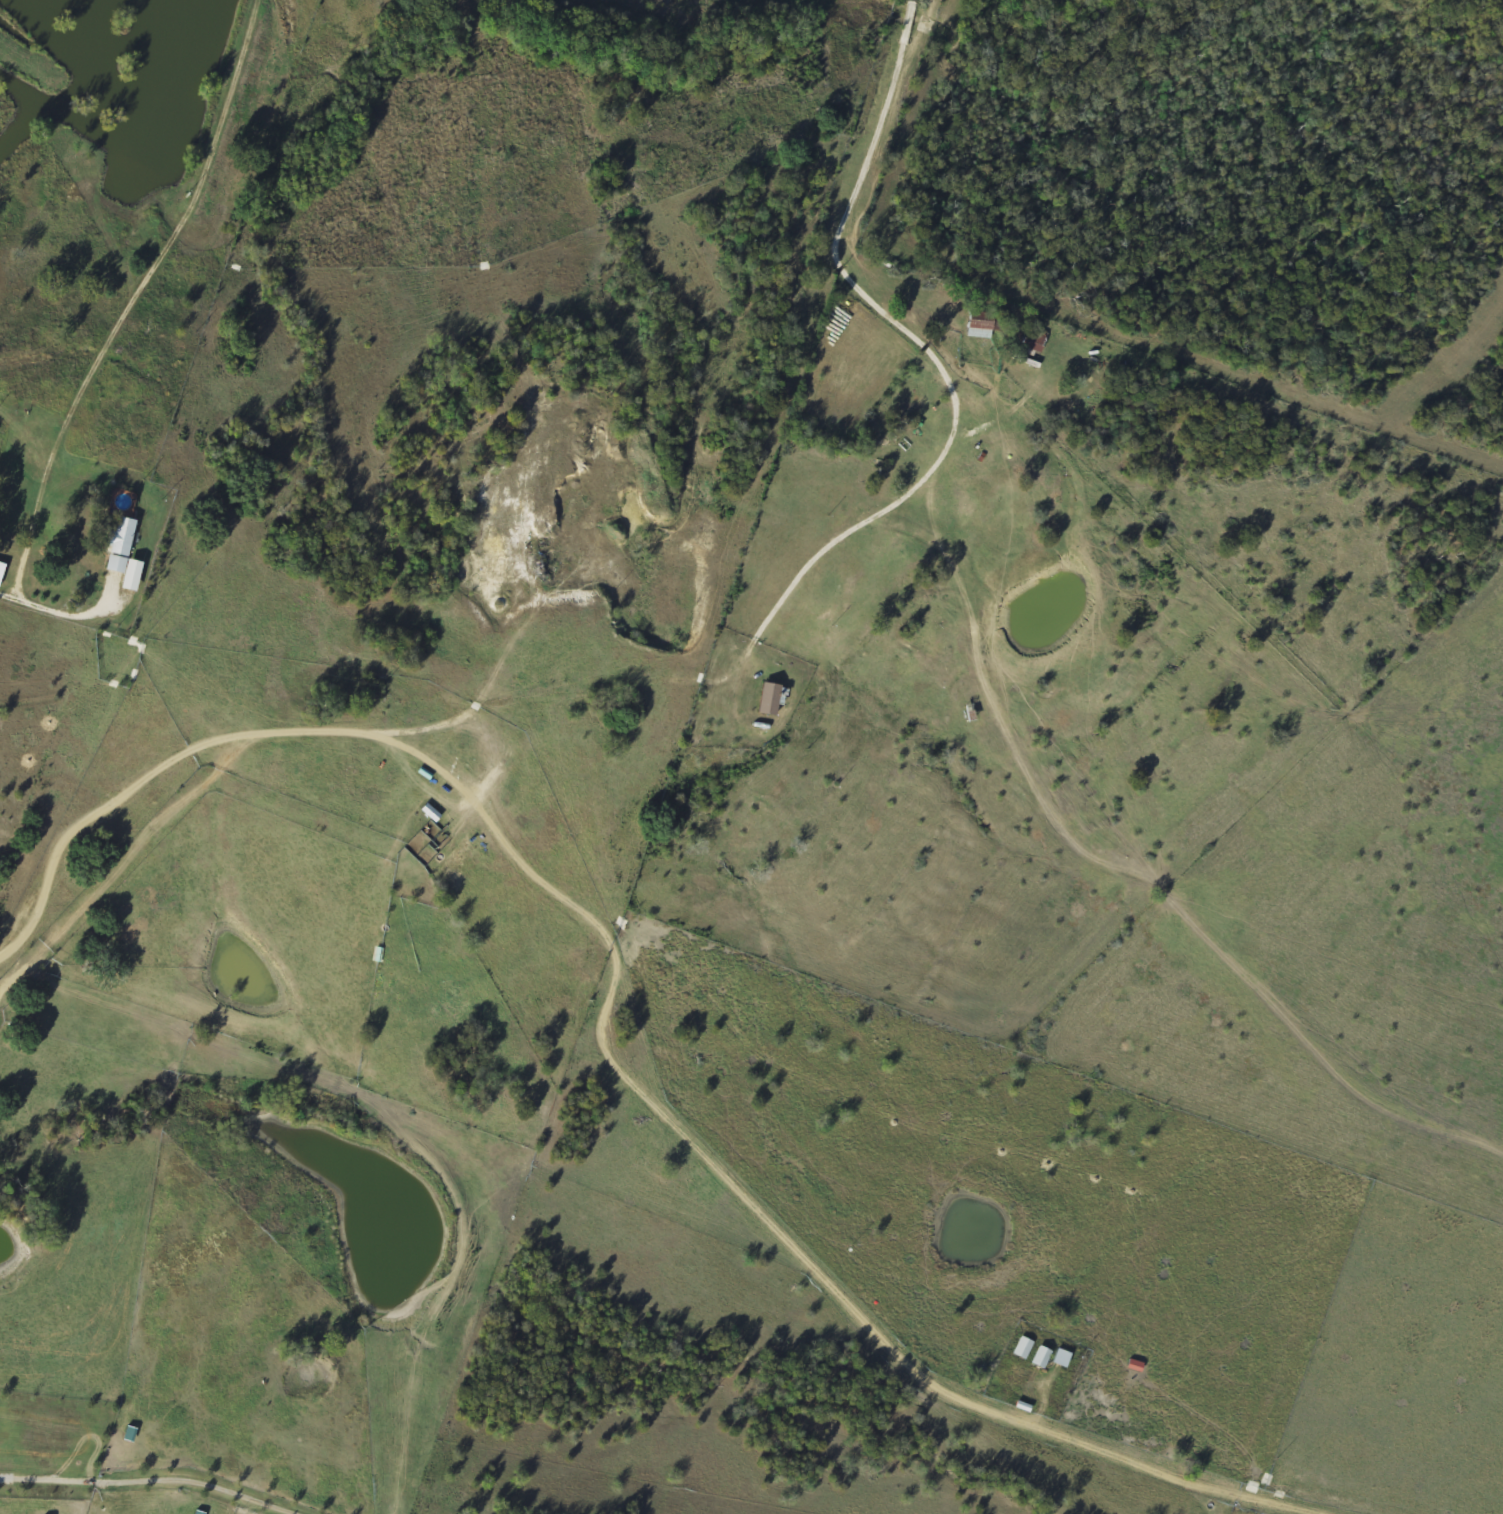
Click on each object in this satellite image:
building: (978, 328)
building: (1033, 340)
building: (122, 553)
building: (1, 568)
road: (42, 594)
road: (441, 594)
road: (696, 651)
building: (768, 699)
road: (392, 786)
building: (1022, 1348)
building: (1040, 1357)

